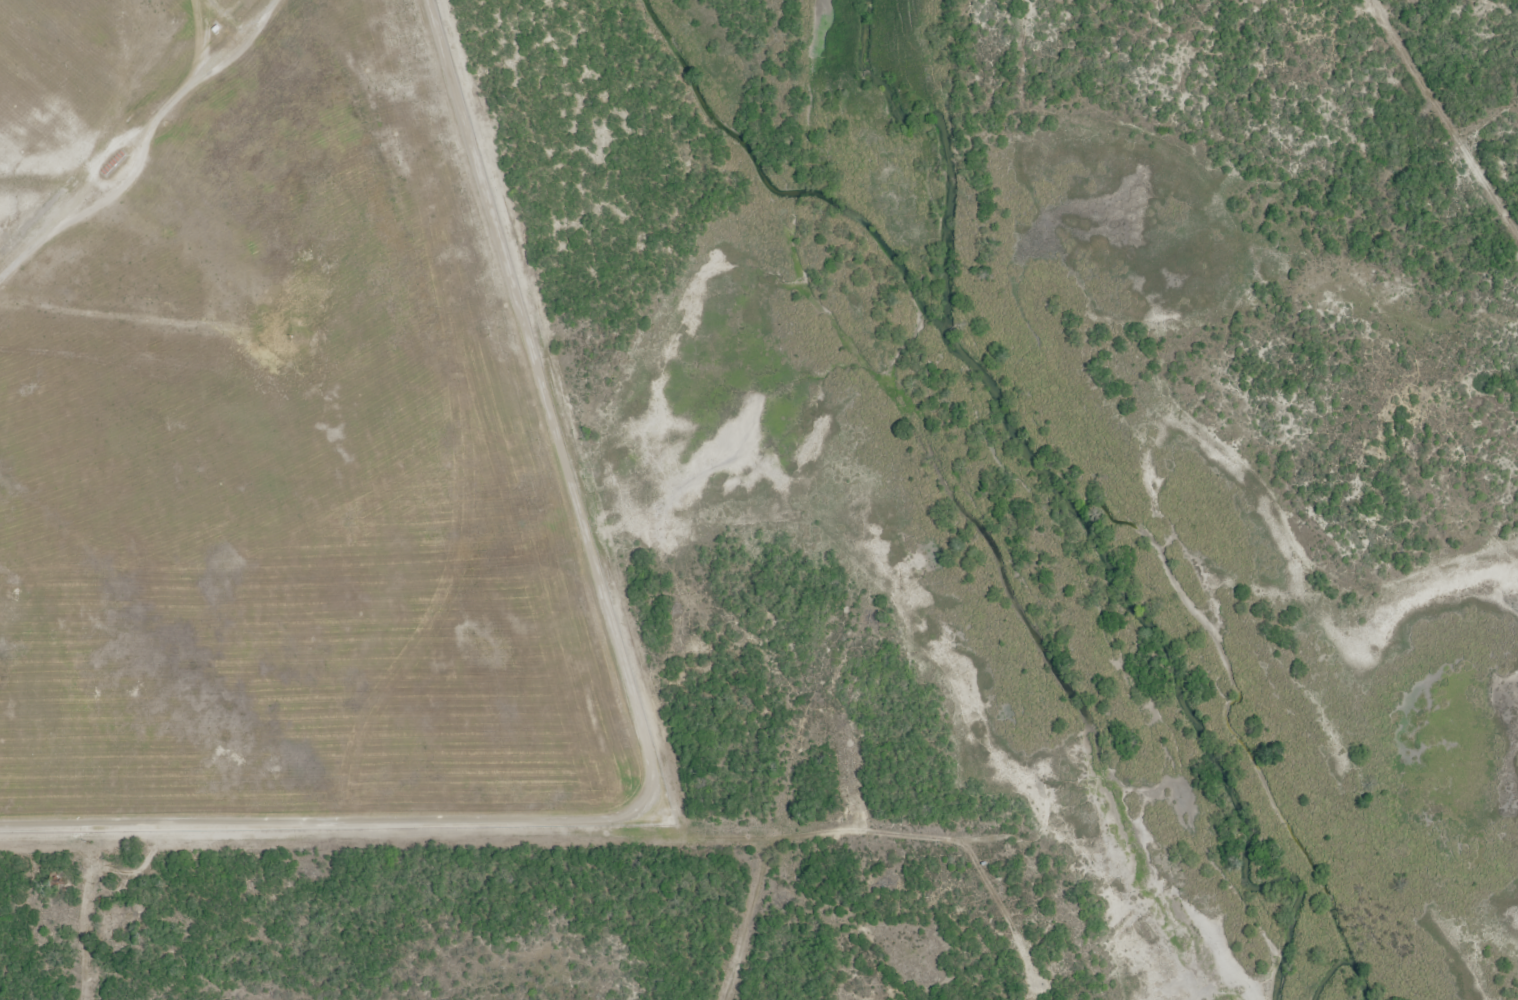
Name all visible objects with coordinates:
road: (136, 139)

